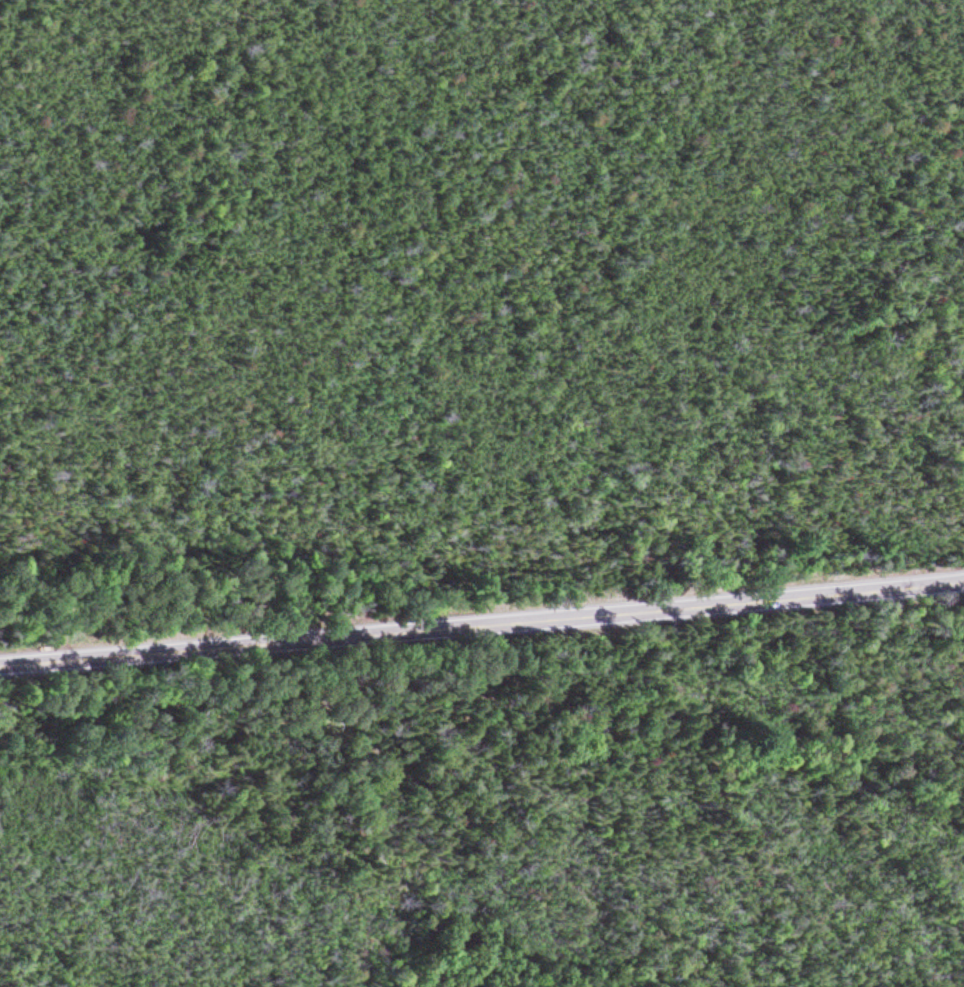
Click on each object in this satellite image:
road: (482, 625)

